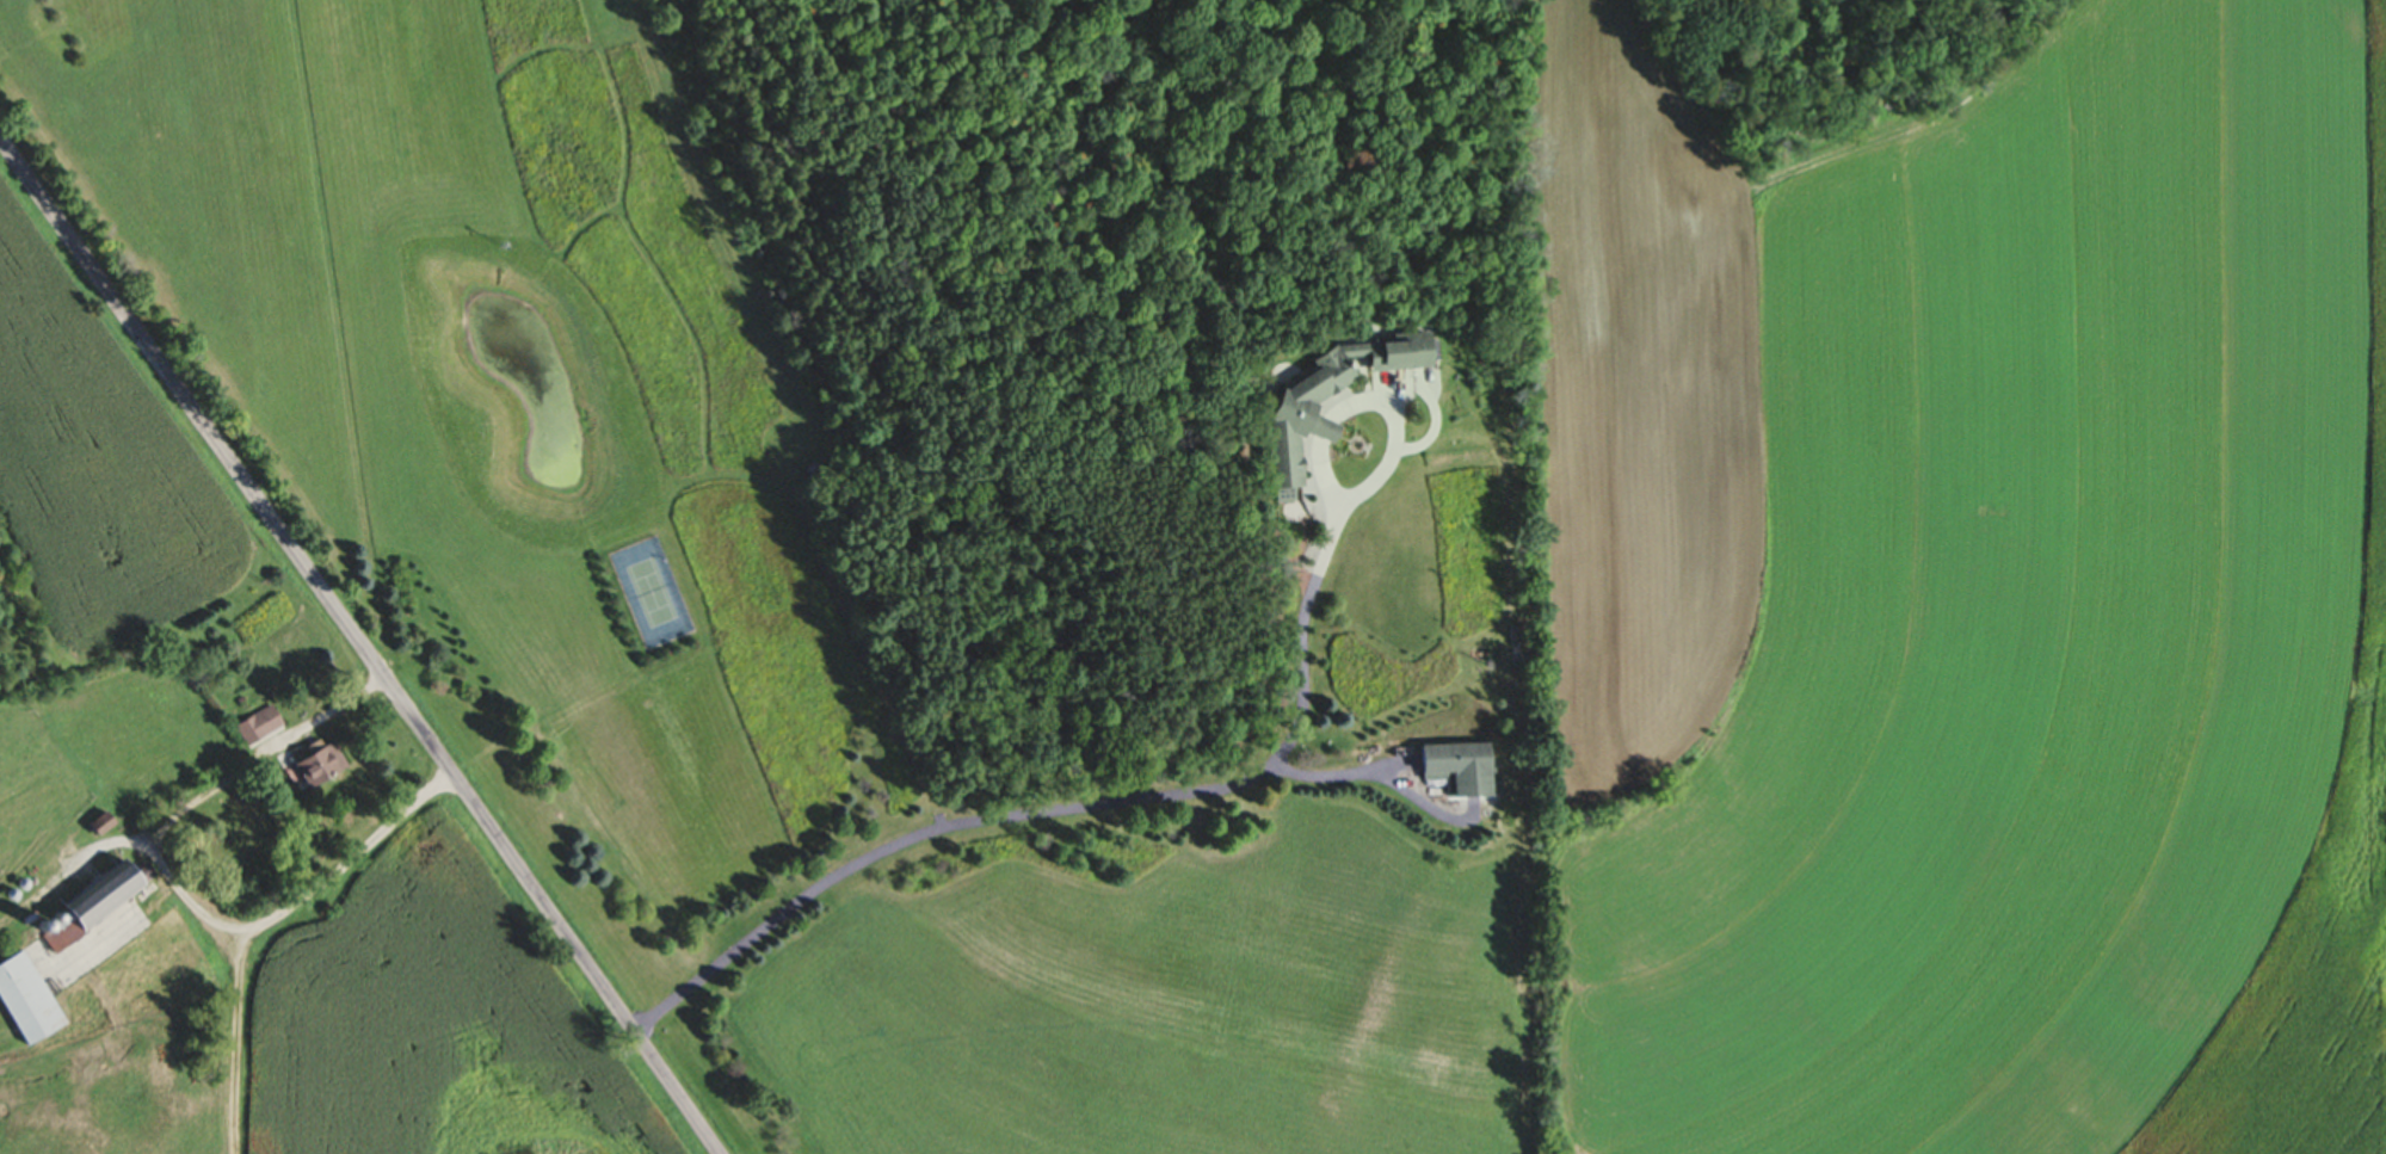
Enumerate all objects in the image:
building: (1293, 418)
park: (651, 592)
road: (358, 643)
building: (254, 724)
building: (313, 765)
building: (1455, 766)
road: (1043, 809)
road: (179, 889)
building: (90, 901)
building: (24, 1000)

